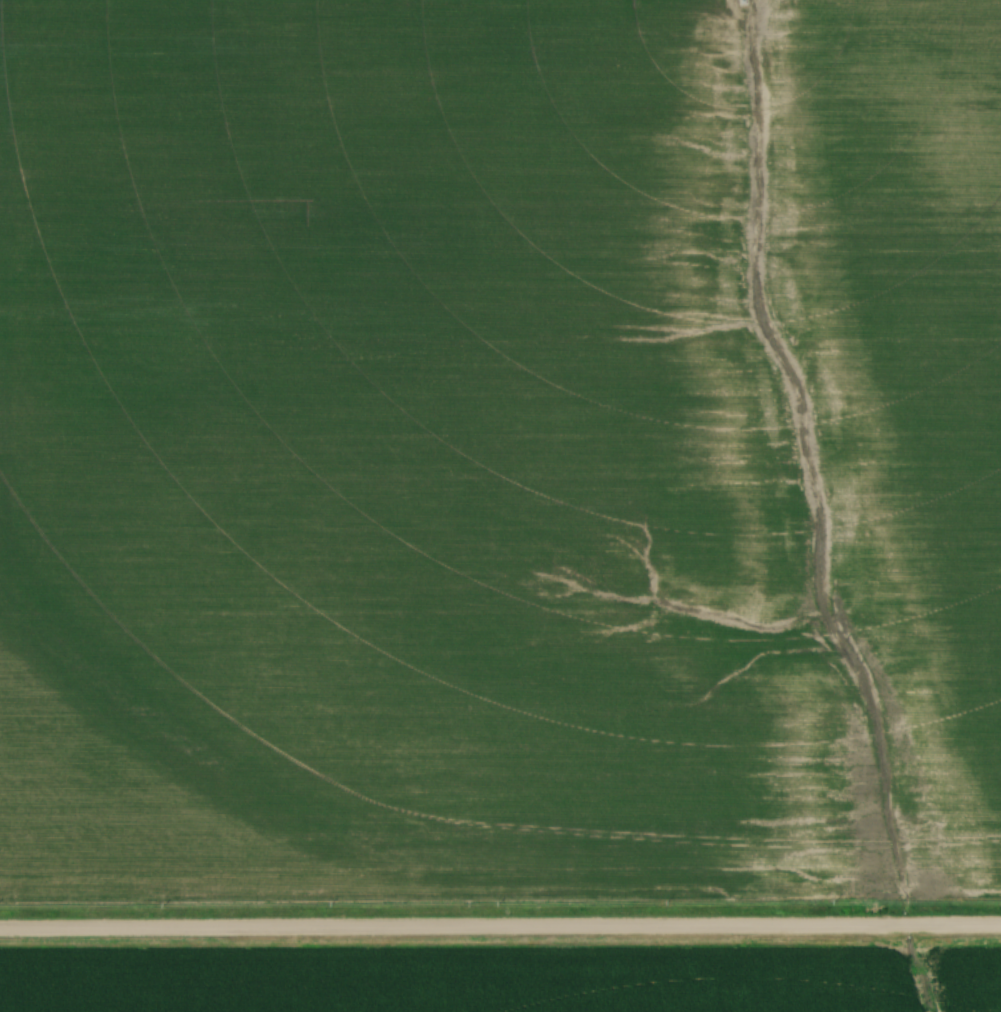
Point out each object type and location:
road: (500, 931)

